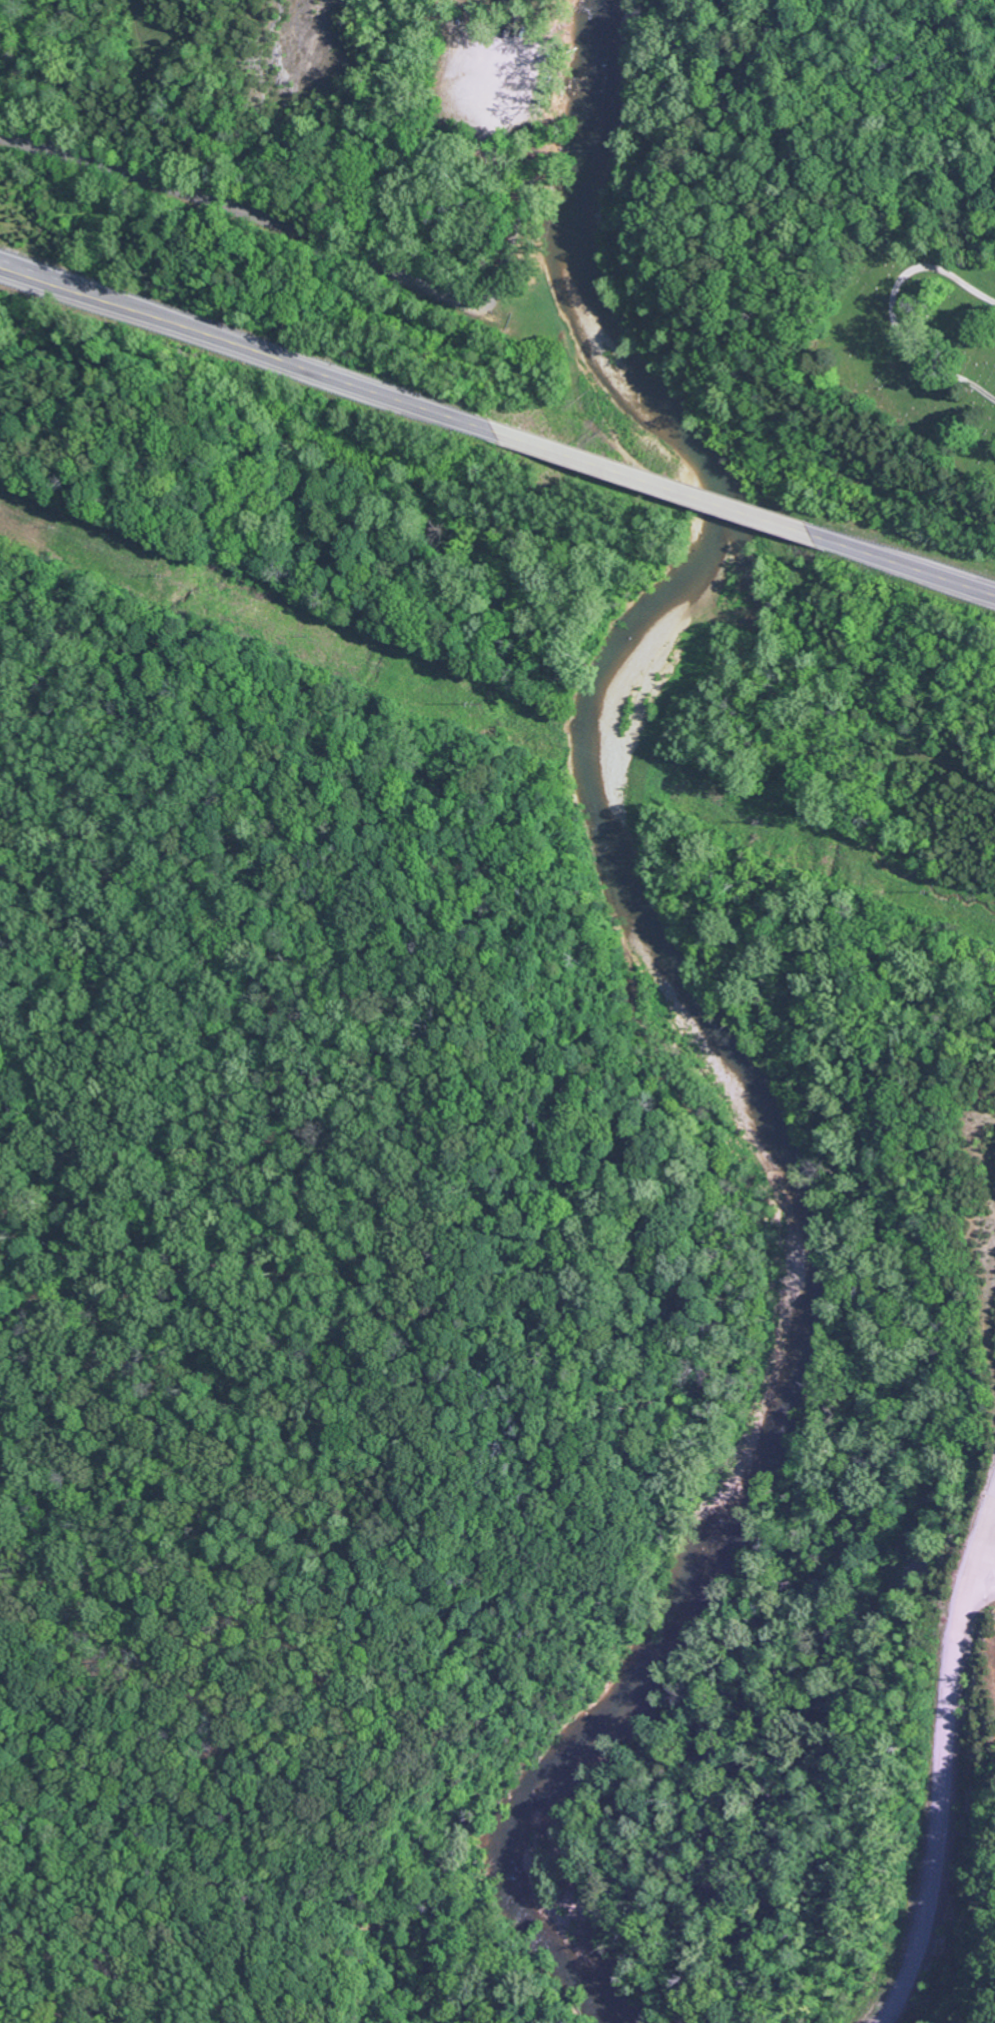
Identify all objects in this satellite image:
road: (378, 267)
park: (917, 343)
road: (249, 348)
road: (654, 482)
road: (902, 564)
road: (906, 784)
river: (709, 1027)
road: (993, 1520)
road: (943, 1767)

